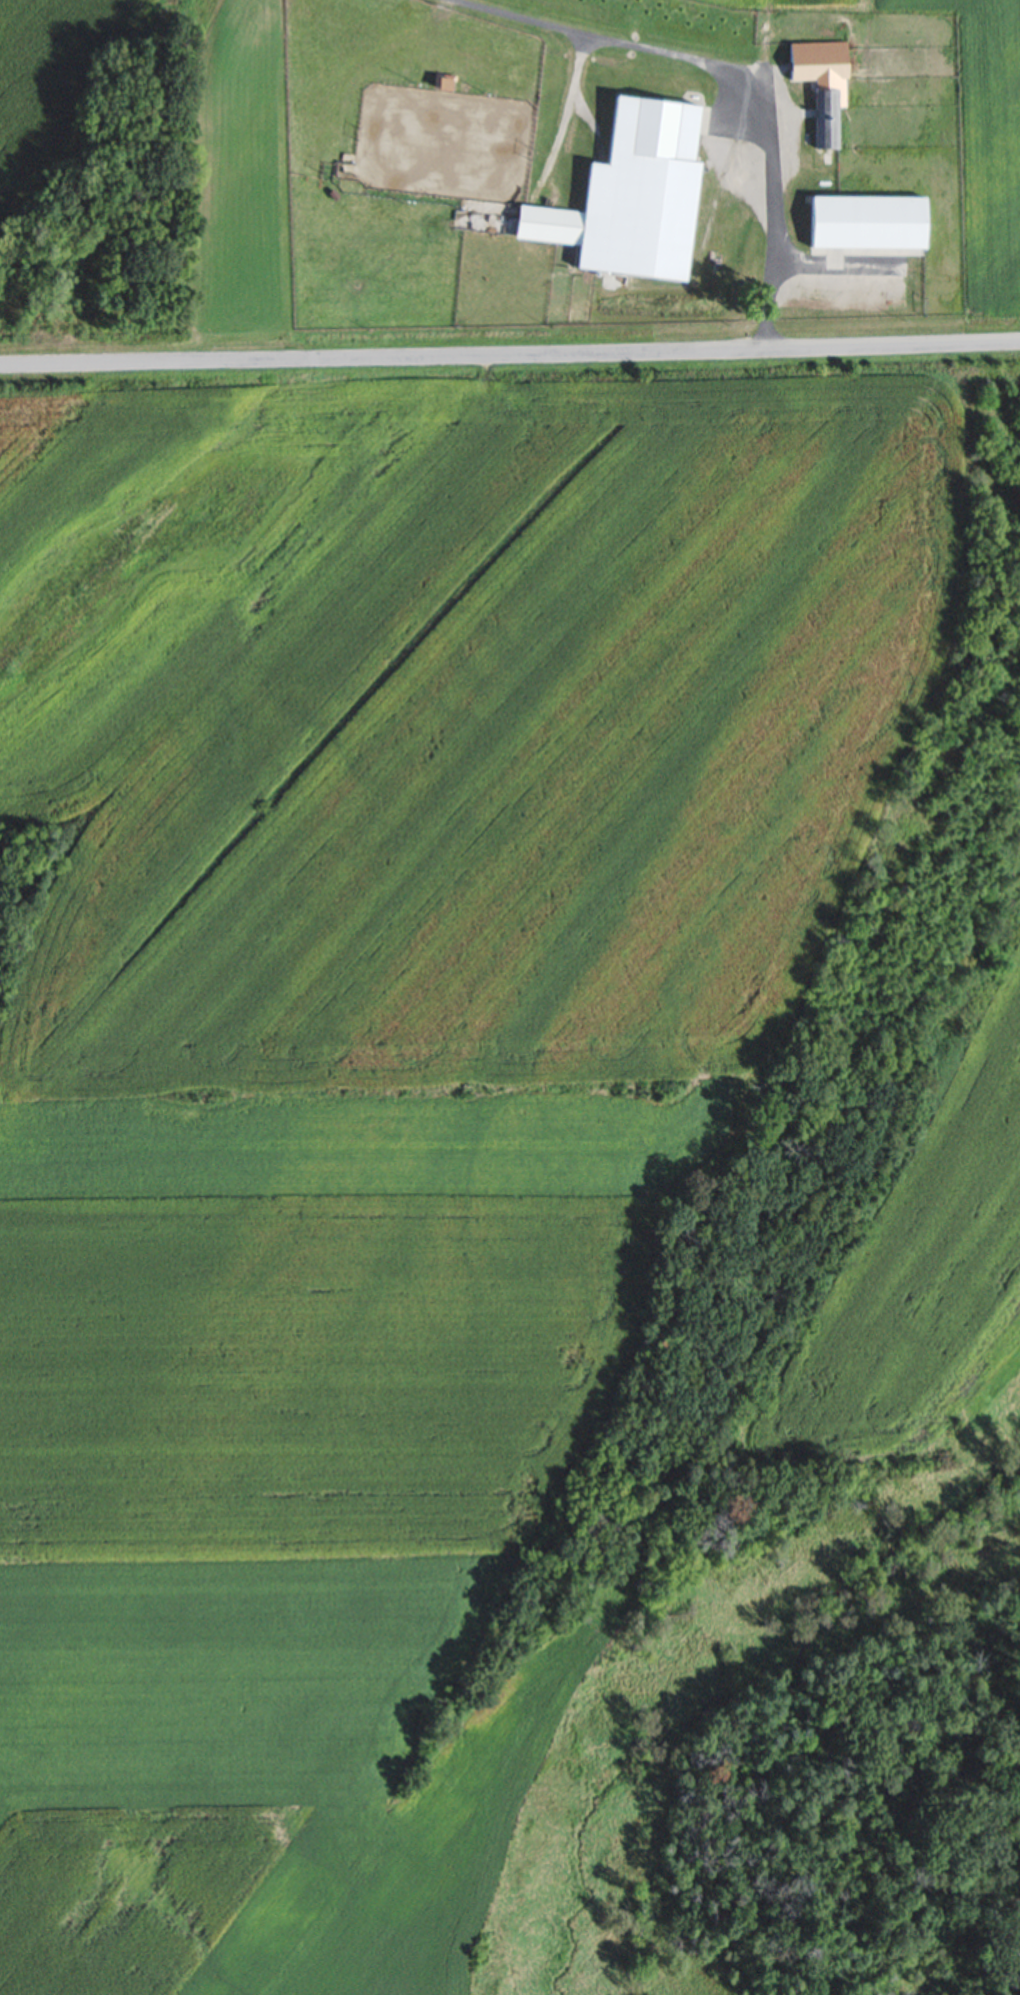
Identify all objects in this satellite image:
road: (749, 68)
building: (822, 81)
building: (444, 82)
building: (644, 190)
building: (333, 192)
building: (869, 220)
building: (513, 221)
road: (510, 357)

